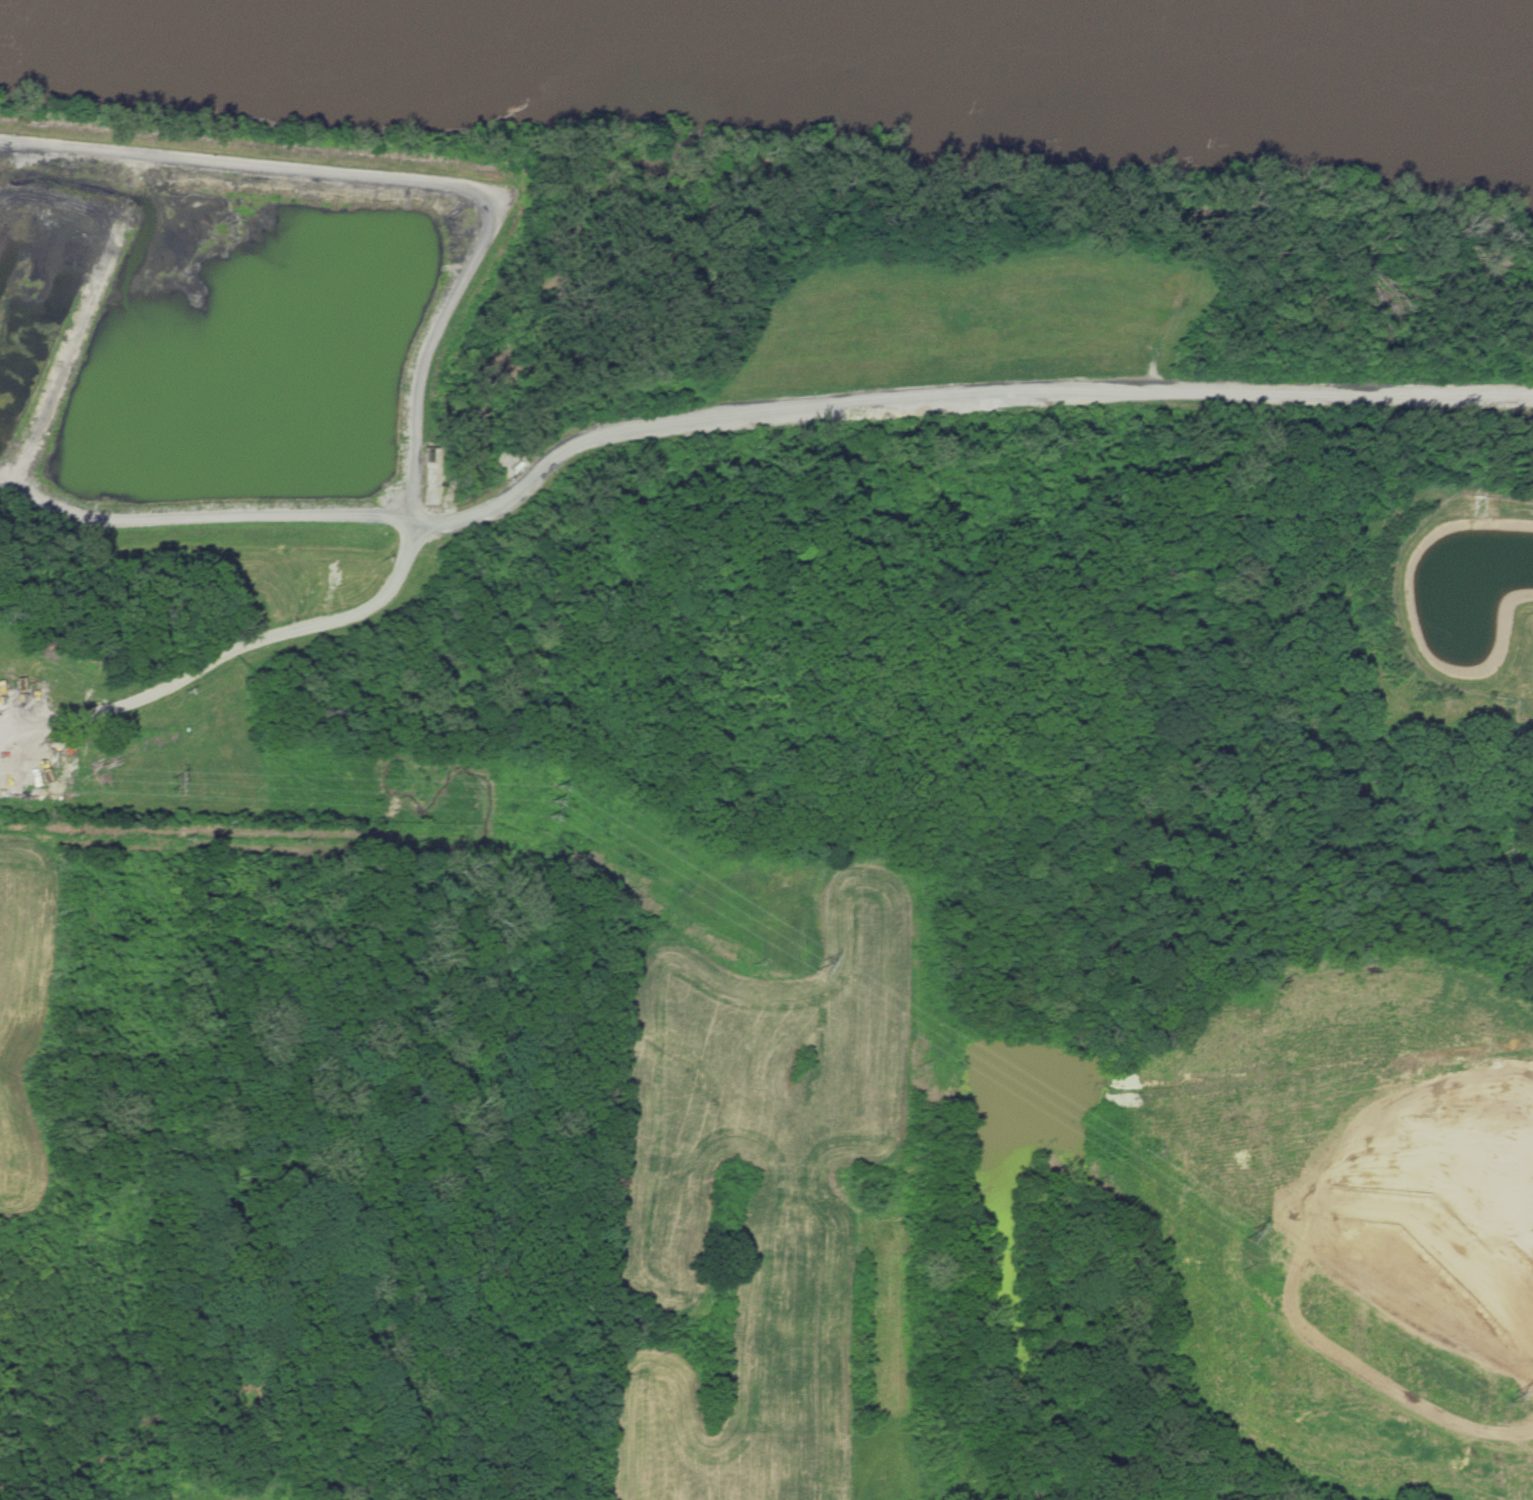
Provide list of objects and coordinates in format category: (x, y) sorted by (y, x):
road: (405, 188)
road: (956, 408)
road: (1520, 509)
road: (197, 524)
road: (235, 662)
power tower: (167, 801)
power tower: (542, 830)
power tower: (817, 985)
crop: (28, 1008)
crop: (743, 1166)
crop: (1345, 1237)
power tower: (1250, 1244)
power tower: (1510, 1404)

